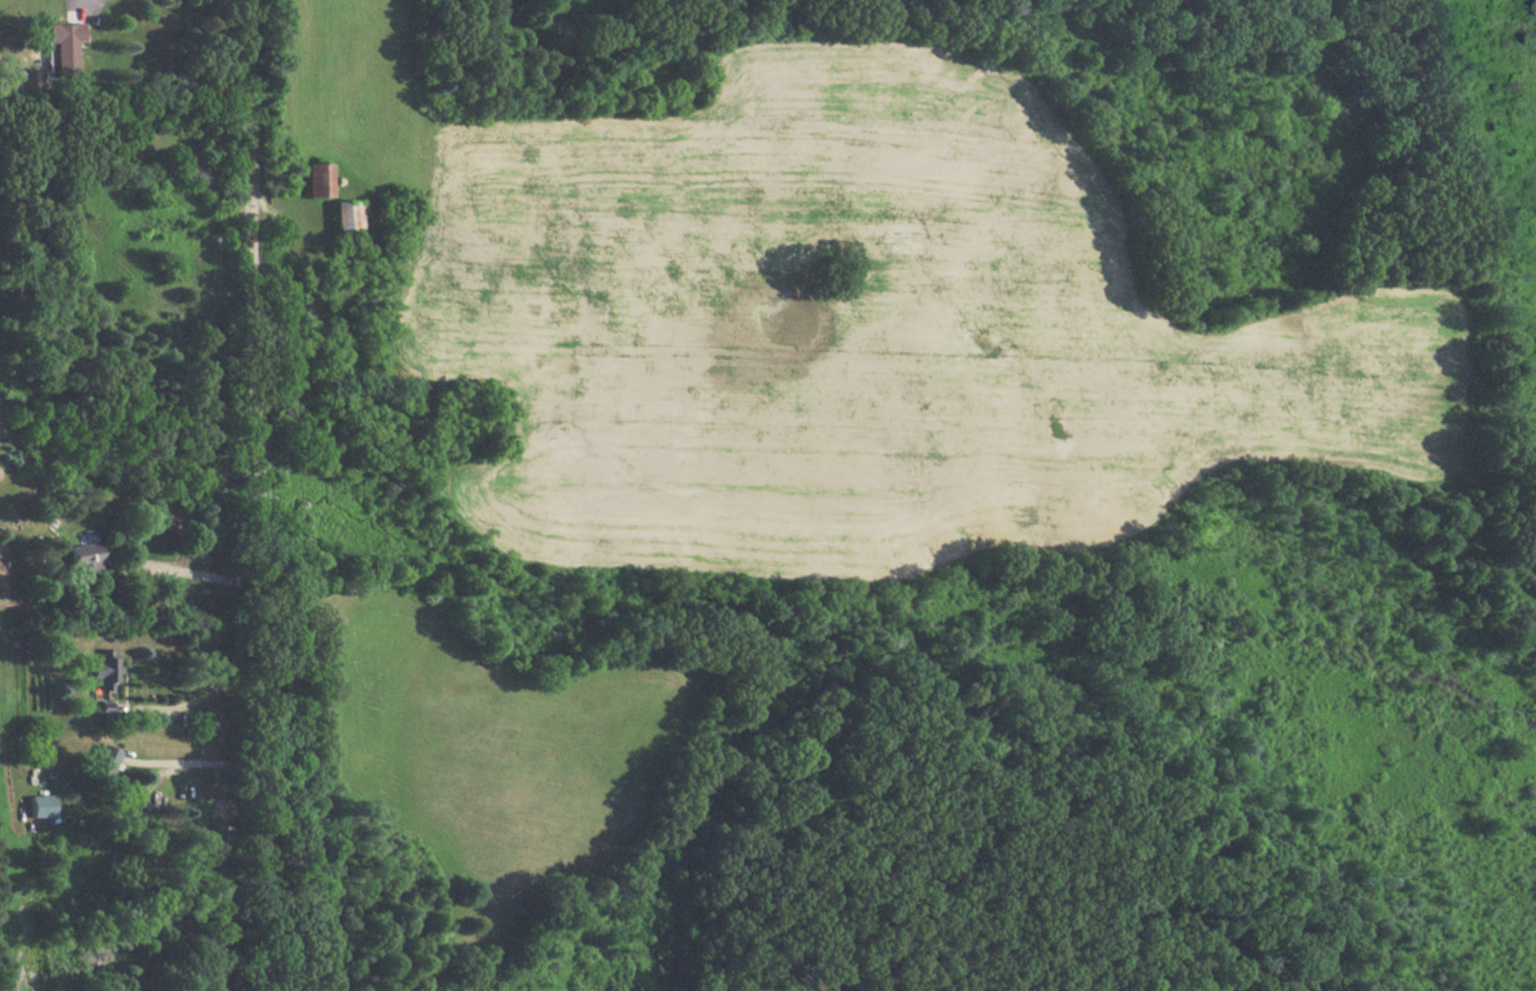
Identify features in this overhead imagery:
building: (61, 41)
building: (314, 181)
building: (346, 217)
road: (256, 495)
building: (83, 562)
road: (200, 576)
building: (104, 671)
road: (200, 697)
building: (102, 764)
road: (199, 765)
building: (42, 806)

